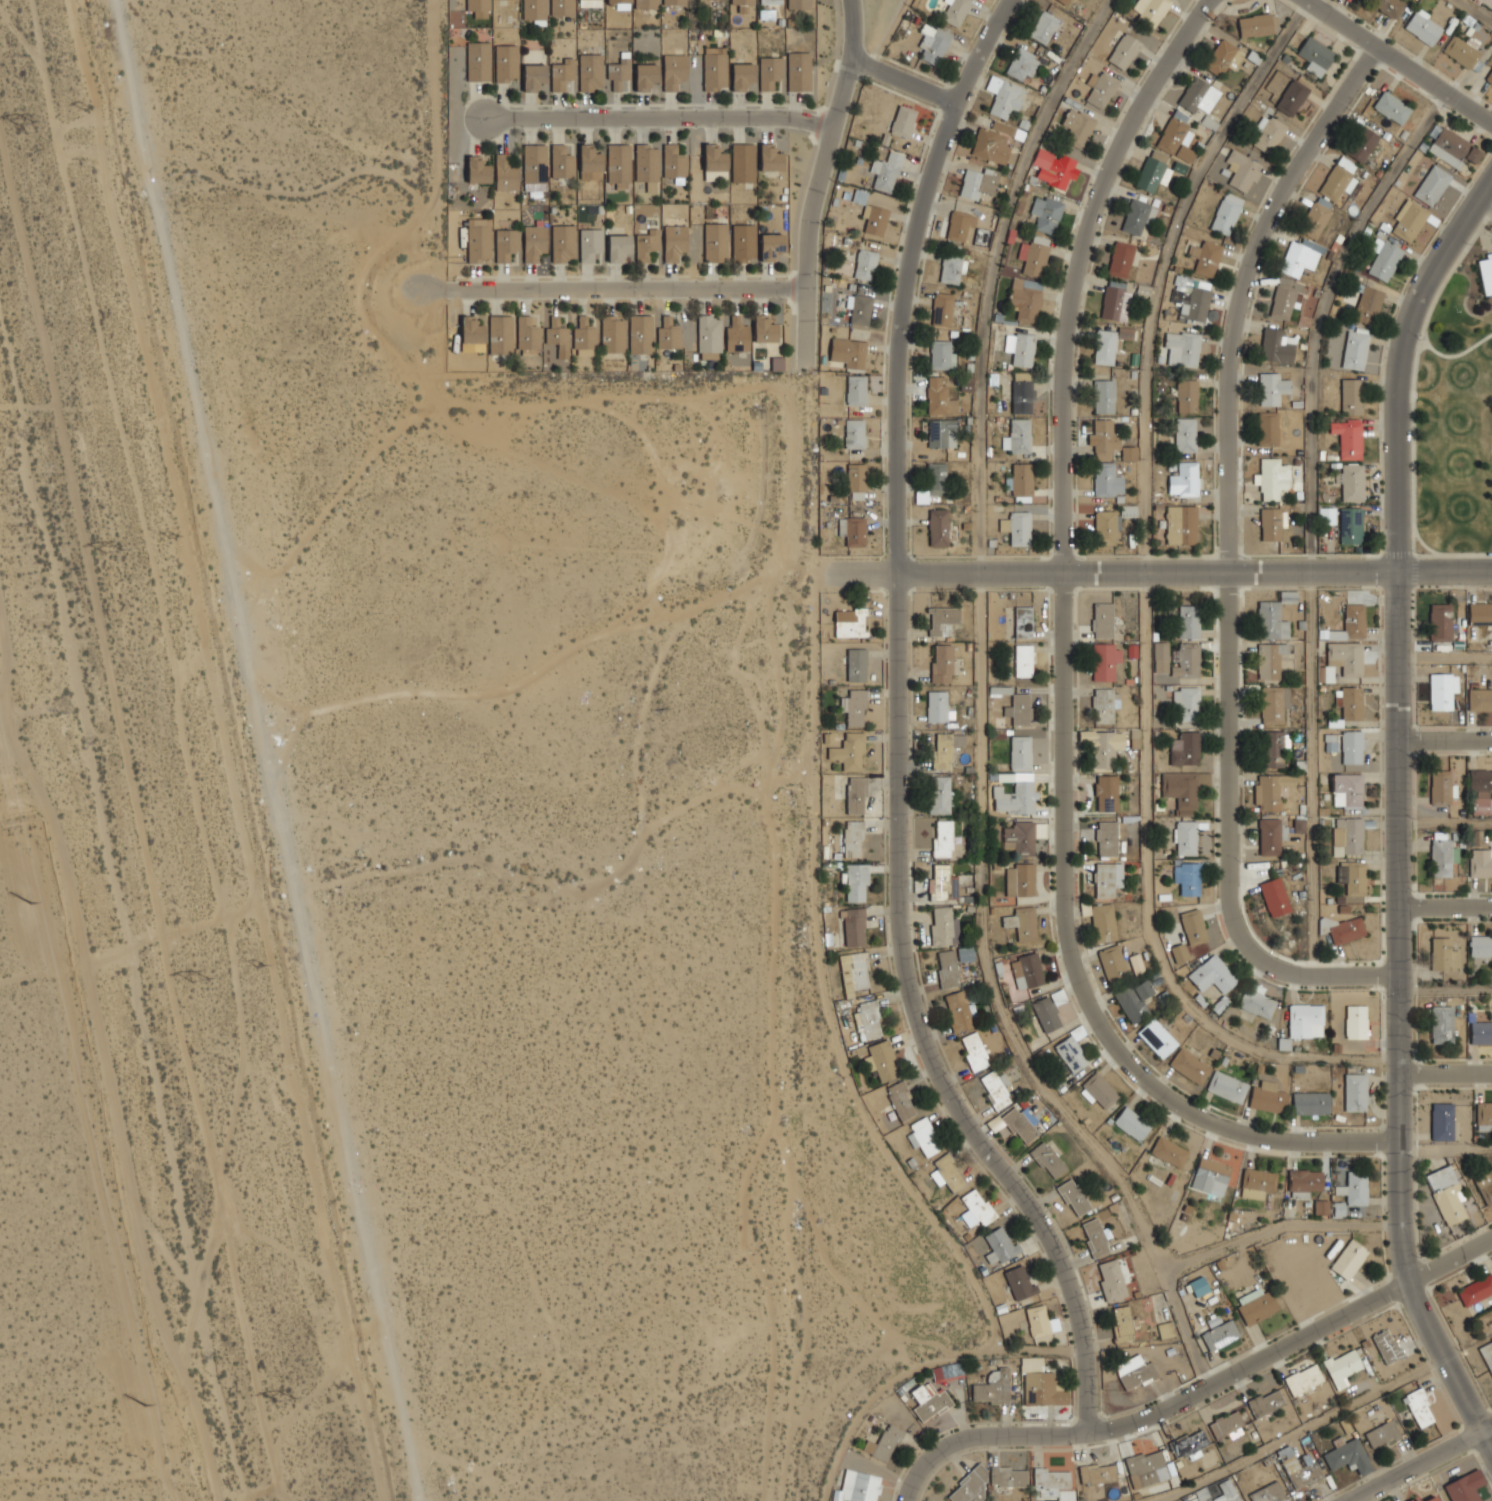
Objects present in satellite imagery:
building: (617, 0)
building: (742, 1)
building: (1063, 1)
building: (674, 2)
building: (770, 2)
building: (646, 4)
building: (799, 4)
building: (1387, 6)
building: (562, 7)
building: (479, 8)
building: (533, 9)
building: (1150, 10)
building: (955, 11)
road: (1475, 11)
building: (1257, 25)
building: (1422, 26)
building: (1044, 27)
building: (938, 41)
building: (1124, 50)
building: (1462, 50)
building: (1316, 55)
building: (1223, 58)
building: (479, 61)
road: (1398, 61)
building: (505, 63)
building: (1022, 64)
building: (714, 67)
building: (673, 70)
building: (590, 71)
building: (619, 71)
building: (769, 71)
building: (799, 71)
building: (563, 73)
building: (645, 75)
building: (742, 76)
building: (533, 77)
building: (1489, 77)
road: (903, 81)
building: (1100, 89)
building: (1199, 95)
building: (1004, 96)
building: (1292, 97)
building: (1392, 106)
power tower: (85, 109)
road: (661, 119)
building: (903, 121)
power tower: (28, 126)
building: (1077, 129)
building: (1267, 134)
building: (1177, 135)
building: (982, 144)
building: (1362, 144)
building: (1453, 148)
building: (770, 157)
building: (714, 158)
building: (591, 160)
building: (561, 161)
building: (673, 162)
building: (743, 162)
building: (619, 163)
building: (646, 163)
building: (534, 167)
building: (1054, 167)
building: (1242, 170)
building: (478, 171)
building: (886, 172)
building: (506, 173)
building: (1154, 174)
building: (1338, 179)
road: (817, 180)
building: (978, 183)
building: (1432, 184)
road: (1486, 203)
building: (1226, 213)
building: (1046, 214)
building: (1136, 215)
building: (874, 219)
building: (1409, 219)
building: (1314, 220)
parking lot: (1489, 225)
building: (958, 226)
road: (1480, 227)
road: (1486, 231)
building: (479, 240)
building: (534, 242)
building: (715, 242)
building: (743, 242)
building: (563, 243)
building: (506, 244)
building: (589, 244)
building: (646, 244)
building: (770, 246)
building: (617, 247)
building: (1034, 255)
building: (1206, 257)
building: (1300, 257)
building: (1121, 259)
building: (1384, 259)
building: (865, 265)
building: (951, 270)
building: (1487, 272)
road: (635, 289)
building: (1191, 297)
building: (1025, 299)
building: (1116, 299)
building: (1282, 302)
building: (941, 309)
building: (858, 319)
building: (763, 329)
building: (474, 334)
building: (640, 334)
building: (668, 334)
building: (500, 335)
building: (612, 335)
building: (527, 337)
building: (557, 337)
building: (584, 337)
building: (709, 337)
building: (737, 337)
road: (1424, 340)
building: (1108, 344)
building: (1184, 346)
building: (1277, 346)
building: (1021, 349)
building: (1355, 349)
building: (848, 352)
road: (1460, 353)
building: (940, 354)
building: (777, 364)
road: (1400, 365)
building: (966, 383)
building: (1271, 388)
building: (856, 390)
building: (1105, 395)
building: (1187, 395)
building: (1352, 396)
building: (938, 398)
road: (1414, 410)
park: (1456, 415)
building: (1268, 428)
building: (854, 434)
building: (941, 434)
building: (1185, 434)
building: (1018, 436)
building: (1103, 437)
building: (1348, 437)
building: (1127, 452)
building: (936, 478)
building: (1273, 478)
building: (1022, 479)
building: (1106, 479)
building: (1185, 479)
building: (856, 481)
building: (1352, 481)
building: (921, 495)
road: (1310, 514)
building: (1328, 515)
building: (1111, 524)
building: (1181, 524)
building: (1271, 524)
building: (1351, 525)
building: (937, 527)
building: (1019, 528)
building: (854, 531)
power tower: (173, 539)
road: (1423, 543)
power tower: (111, 548)
road: (1229, 558)
road: (1444, 571)
road: (1148, 572)
road: (1143, 598)
building: (1480, 613)
building: (1103, 619)
building: (943, 620)
building: (1271, 620)
building: (1189, 621)
building: (1023, 622)
building: (1441, 622)
building: (849, 623)
building: (1350, 624)
building: (1161, 650)
road: (1445, 656)
building: (1105, 660)
building: (1186, 660)
building: (1273, 660)
building: (1342, 660)
building: (1023, 661)
building: (941, 664)
building: (856, 665)
road: (1064, 669)
building: (1000, 690)
building: (1442, 691)
building: (1480, 699)
building: (1350, 701)
building: (1274, 703)
building: (1105, 704)
building: (1187, 704)
building: (936, 706)
building: (854, 707)
building: (1020, 708)
road: (981, 709)
road: (899, 728)
building: (829, 738)
road: (1445, 739)
building: (1346, 744)
building: (1104, 745)
building: (1275, 746)
building: (1186, 748)
building: (942, 751)
building: (1021, 752)
building: (849, 759)
building: (1442, 786)
building: (1181, 790)
building: (1271, 791)
building: (1348, 791)
building: (1480, 791)
building: (1107, 793)
building: (856, 795)
building: (939, 795)
building: (1014, 795)
road: (1445, 825)
building: (1270, 836)
building: (1348, 836)
building: (1019, 837)
building: (1186, 837)
building: (943, 838)
building: (1107, 838)
building: (852, 839)
building: (1442, 856)
building: (1481, 862)
building: (1188, 876)
building: (1353, 877)
building: (1107, 878)
building: (1020, 879)
building: (856, 883)
building: (942, 884)
building: (1275, 896)
power tower: (32, 903)
road: (1445, 904)
building: (1023, 922)
building: (1104, 922)
building: (943, 925)
building: (1194, 926)
building: (854, 927)
building: (1344, 928)
building: (1481, 945)
building: (969, 952)
building: (1180, 952)
building: (1443, 953)
building: (1113, 962)
building: (1137, 963)
power tower: (261, 968)
building: (947, 969)
building: (1027, 971)
building: (855, 973)
building: (1213, 974)
power tower: (201, 982)
road: (1445, 989)
building: (1135, 999)
building: (1257, 1003)
building: (958, 1011)
building: (1047, 1011)
road: (1398, 1011)
building: (867, 1021)
building: (1305, 1021)
building: (1356, 1022)
building: (1441, 1025)
building: (1481, 1032)
building: (1157, 1038)
building: (974, 1051)
building: (1071, 1054)
building: (883, 1061)
building: (1189, 1066)
road: (1445, 1072)
building: (1226, 1086)
building: (996, 1089)
building: (1098, 1091)
building: (1355, 1092)
building: (1267, 1097)
building: (900, 1100)
building: (1310, 1103)
building: (1484, 1116)
building: (1442, 1122)
building: (1020, 1124)
building: (1131, 1124)
building: (921, 1134)
road: (1445, 1151)
building: (1168, 1152)
building: (1047, 1159)
building: (947, 1173)
building: (1210, 1175)
building: (1304, 1182)
building: (1257, 1183)
building: (1485, 1185)
building: (1354, 1188)
building: (1446, 1194)
building: (1073, 1197)
building: (978, 1207)
building: (1321, 1207)
road: (1277, 1228)
building: (1094, 1237)
building: (1000, 1246)
building: (1348, 1259)
building: (1111, 1281)
building: (1019, 1282)
building: (1198, 1286)
building: (1475, 1290)
building: (1256, 1305)
building: (1037, 1320)
building: (1122, 1324)
building: (1219, 1335)
building: (1386, 1346)
building: (1487, 1355)
building: (1341, 1367)
road: (1235, 1371)
building: (1137, 1375)
building: (1303, 1379)
building: (1041, 1384)
power tower: (345, 1387)
building: (993, 1387)
power tower: (284, 1398)
building: (929, 1401)
building: (1265, 1403)
power tower: (145, 1404)
building: (1419, 1408)
road: (1488, 1428)
road: (1299, 1432)
building: (1382, 1434)
road: (1488, 1439)
building: (883, 1443)
building: (1189, 1444)
building: (1348, 1457)
road: (925, 1462)
road: (1415, 1466)
building: (1146, 1469)
building: (1300, 1471)
building: (1097, 1474)
building: (1008, 1477)
building: (1051, 1478)
building: (969, 1486)
building: (858, 1487)
building: (1464, 1487)
building: (1228, 1491)
building: (1267, 1493)
building: (1430, 1498)

